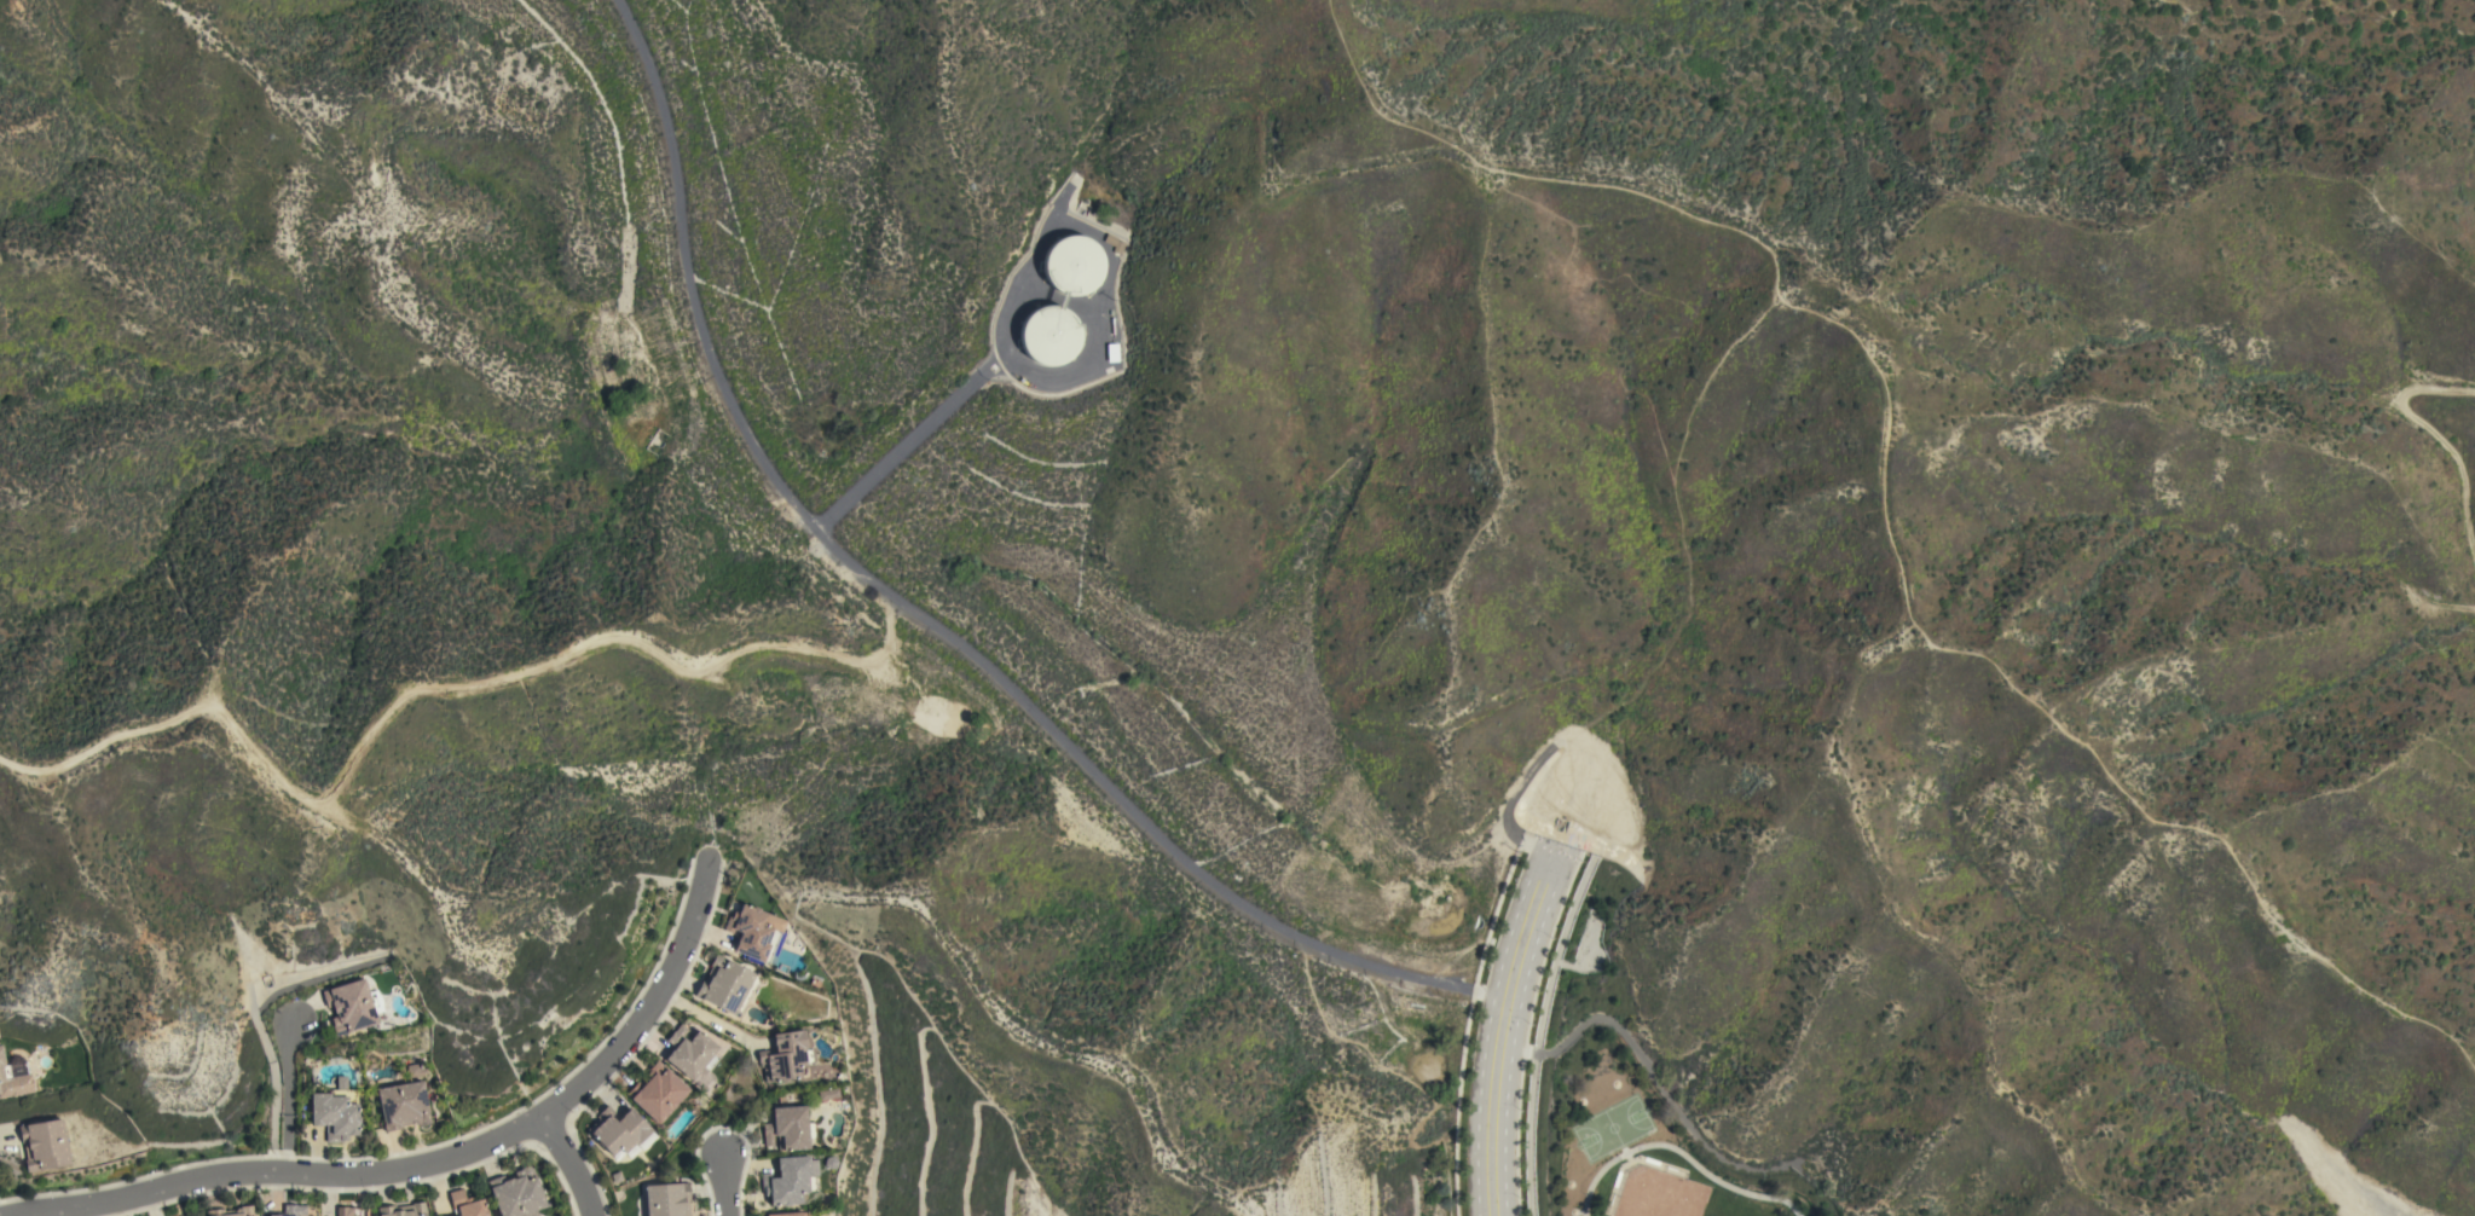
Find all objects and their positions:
building: (1115, 243)
building: (1072, 265)
road: (1100, 295)
building: (1049, 335)
road: (2423, 432)
road: (907, 440)
road: (1879, 513)
road: (2453, 606)
road: (920, 618)
road: (428, 689)
road: (1492, 911)
building: (754, 932)
building: (724, 984)
building: (352, 1007)
road: (710, 1020)
road: (1499, 1026)
road: (1538, 1035)
building: (692, 1055)
building: (785, 1056)
building: (416, 1071)
building: (13, 1076)
road: (1399, 1076)
road: (273, 1079)
building: (657, 1093)
road: (287, 1098)
road: (1457, 1102)
building: (403, 1105)
building: (336, 1112)
building: (788, 1128)
building: (621, 1134)
building: (44, 1145)
road: (432, 1163)
road: (567, 1164)
building: (790, 1180)
road: (722, 1186)
building: (516, 1193)
building: (666, 1199)
building: (465, 1205)
building: (294, 1210)
building: (405, 1210)
building: (232, 1211)
building: (343, 1211)
building: (272, 1215)
building: (762, 1215)
building: (794, 1215)

